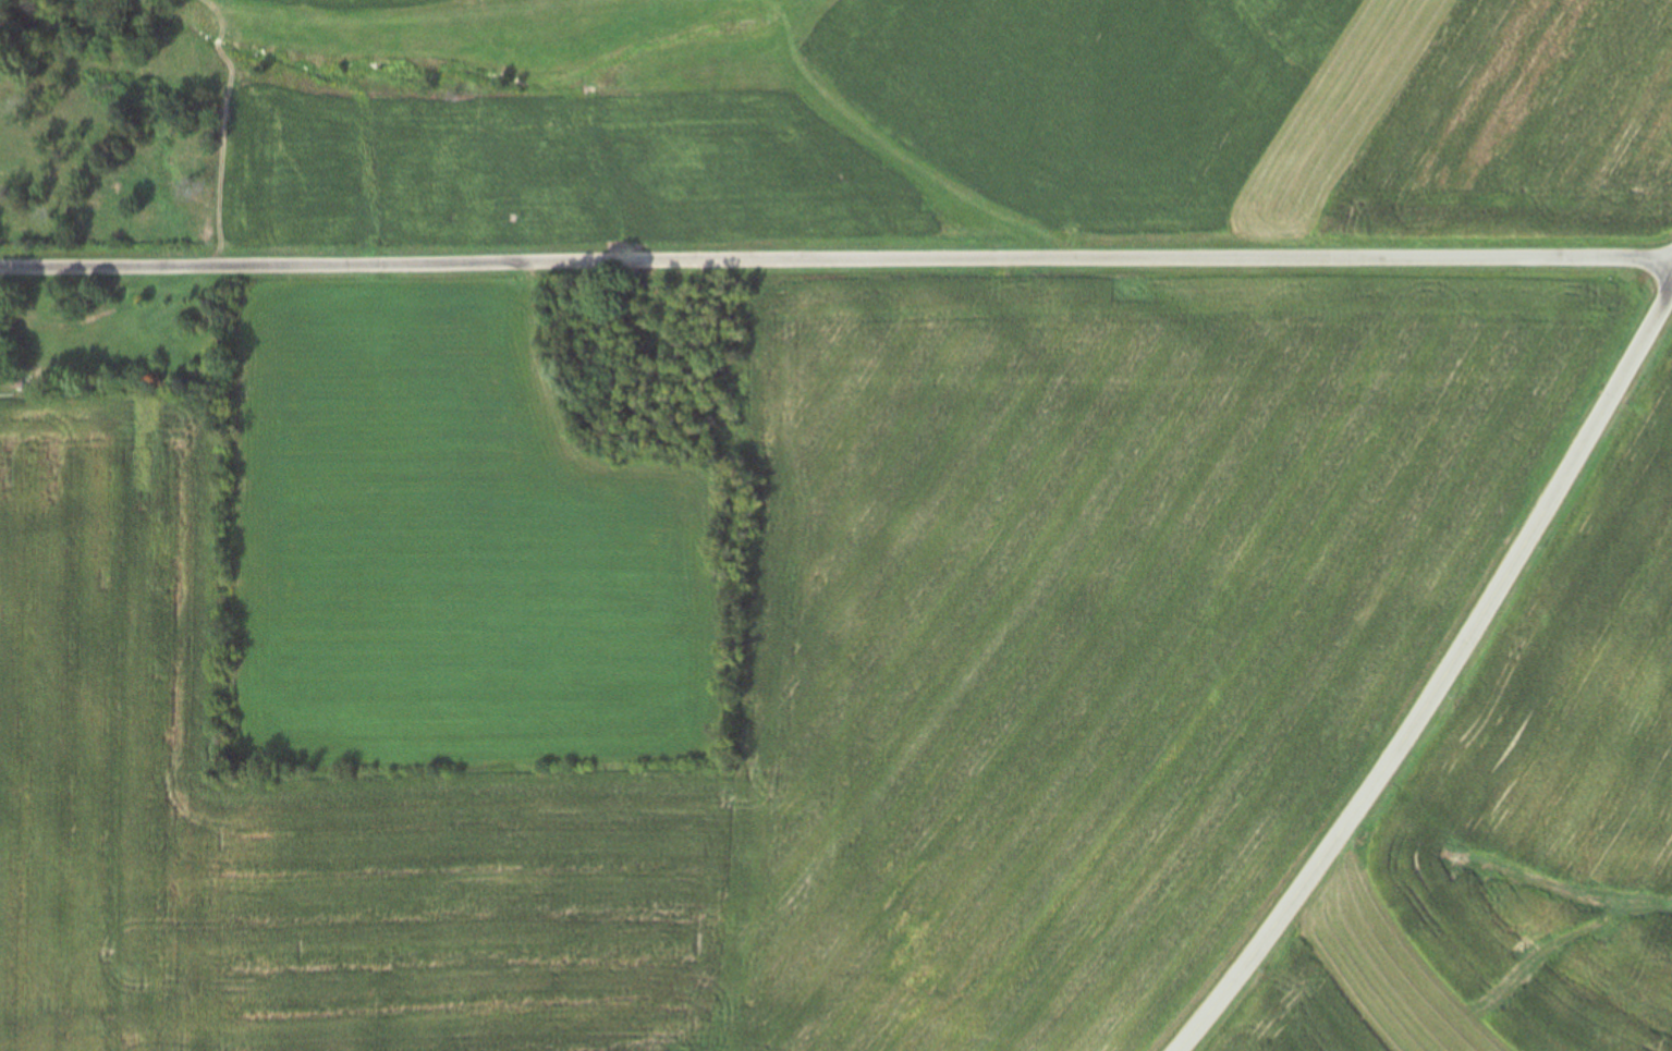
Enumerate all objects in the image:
road: (835, 261)
road: (1441, 684)
mineshaft: (924, 934)

